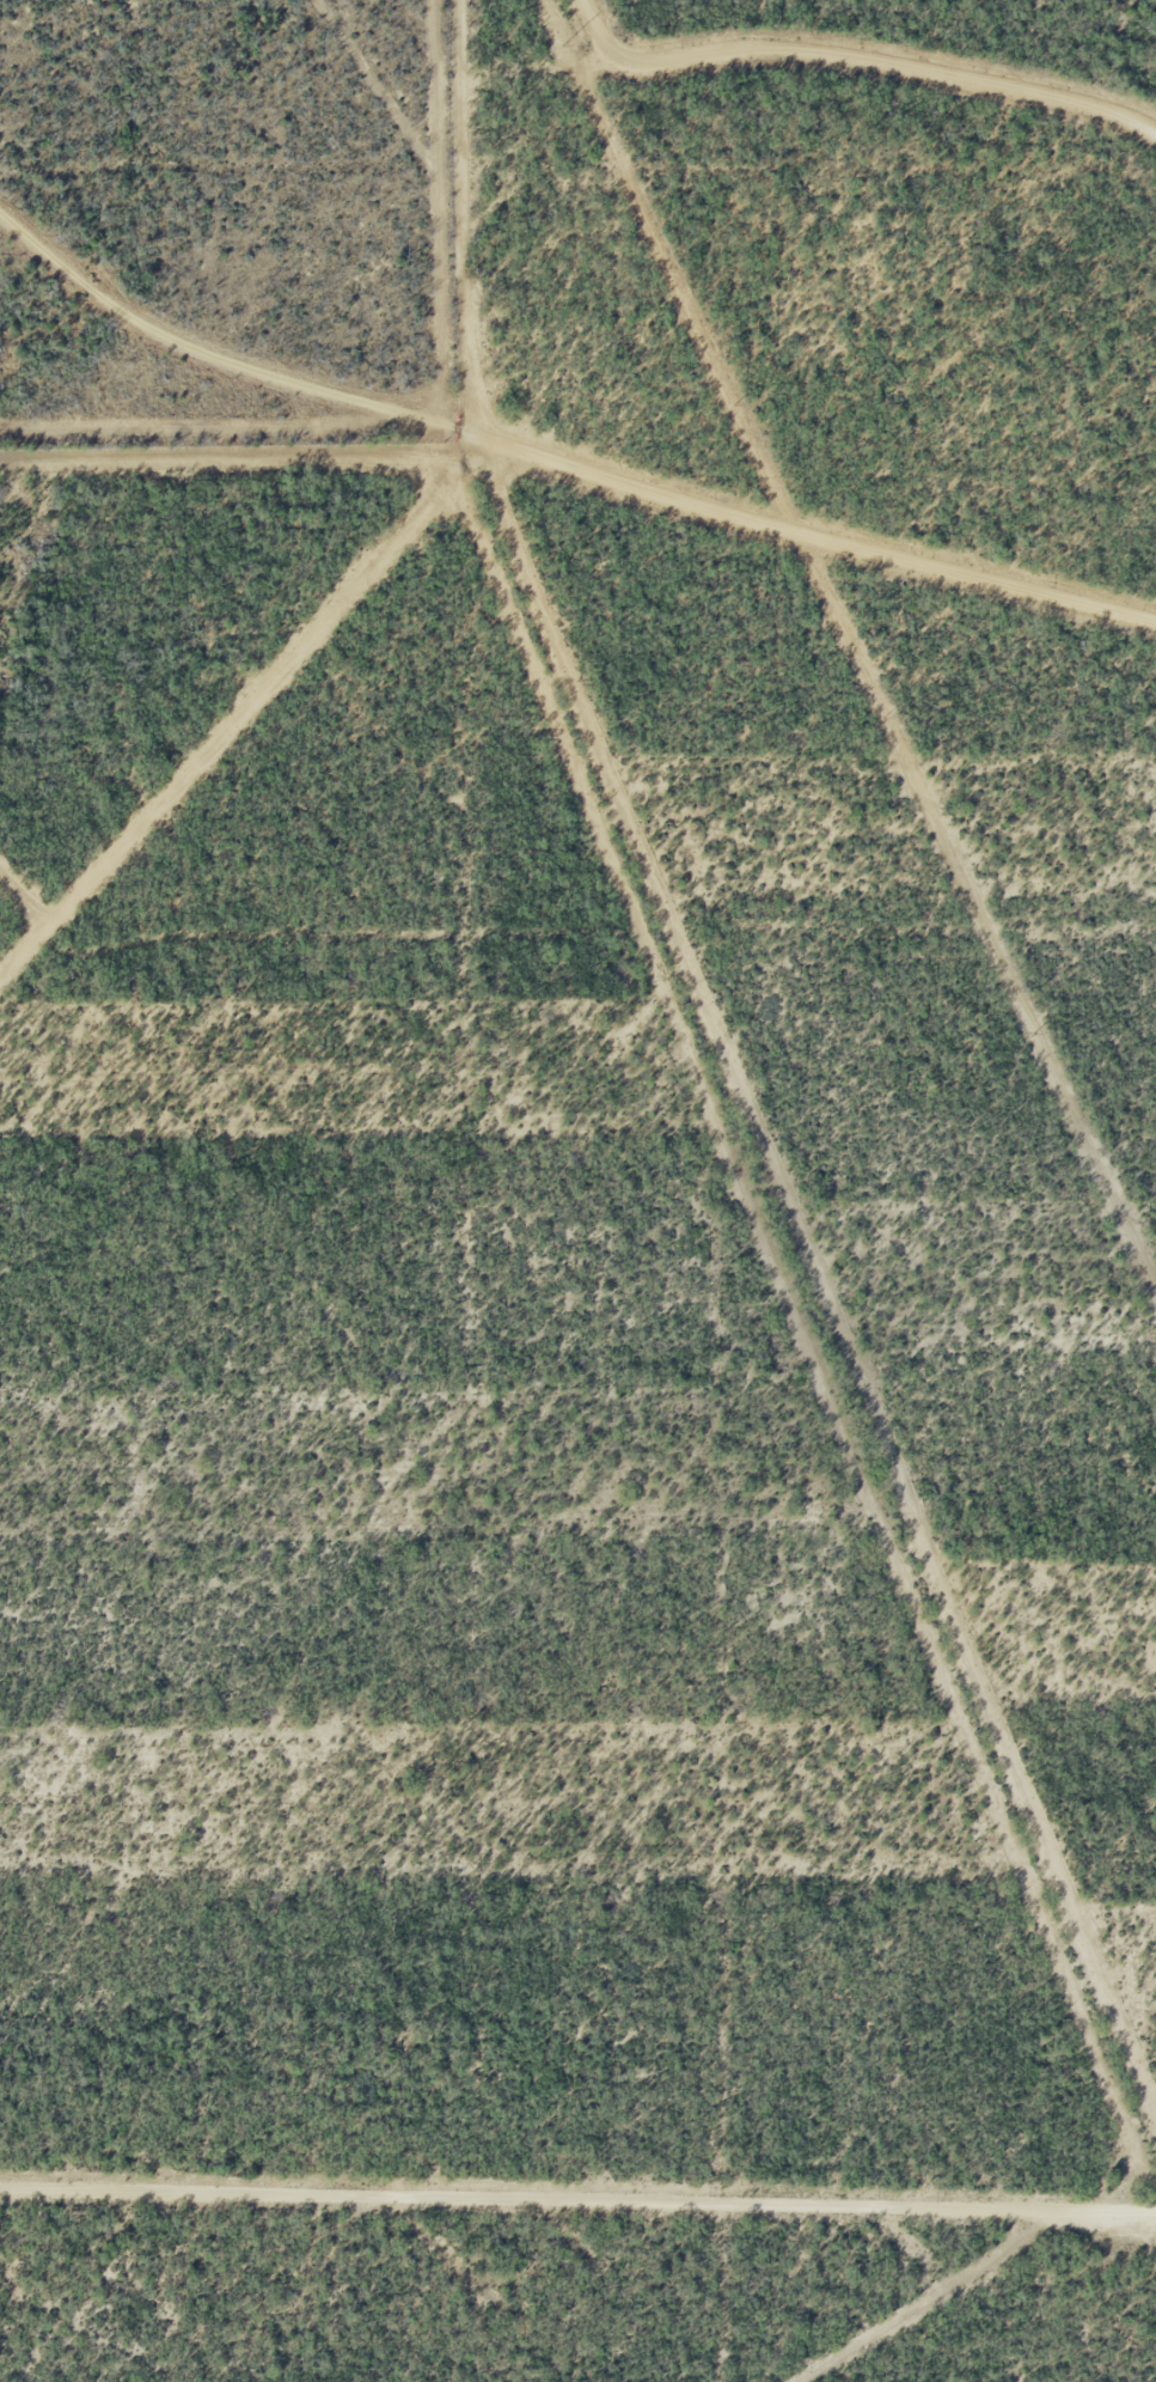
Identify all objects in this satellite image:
power tower: (563, 44)
power tower: (734, 403)
road: (557, 459)
power tower: (883, 717)
power tower: (1033, 1031)

